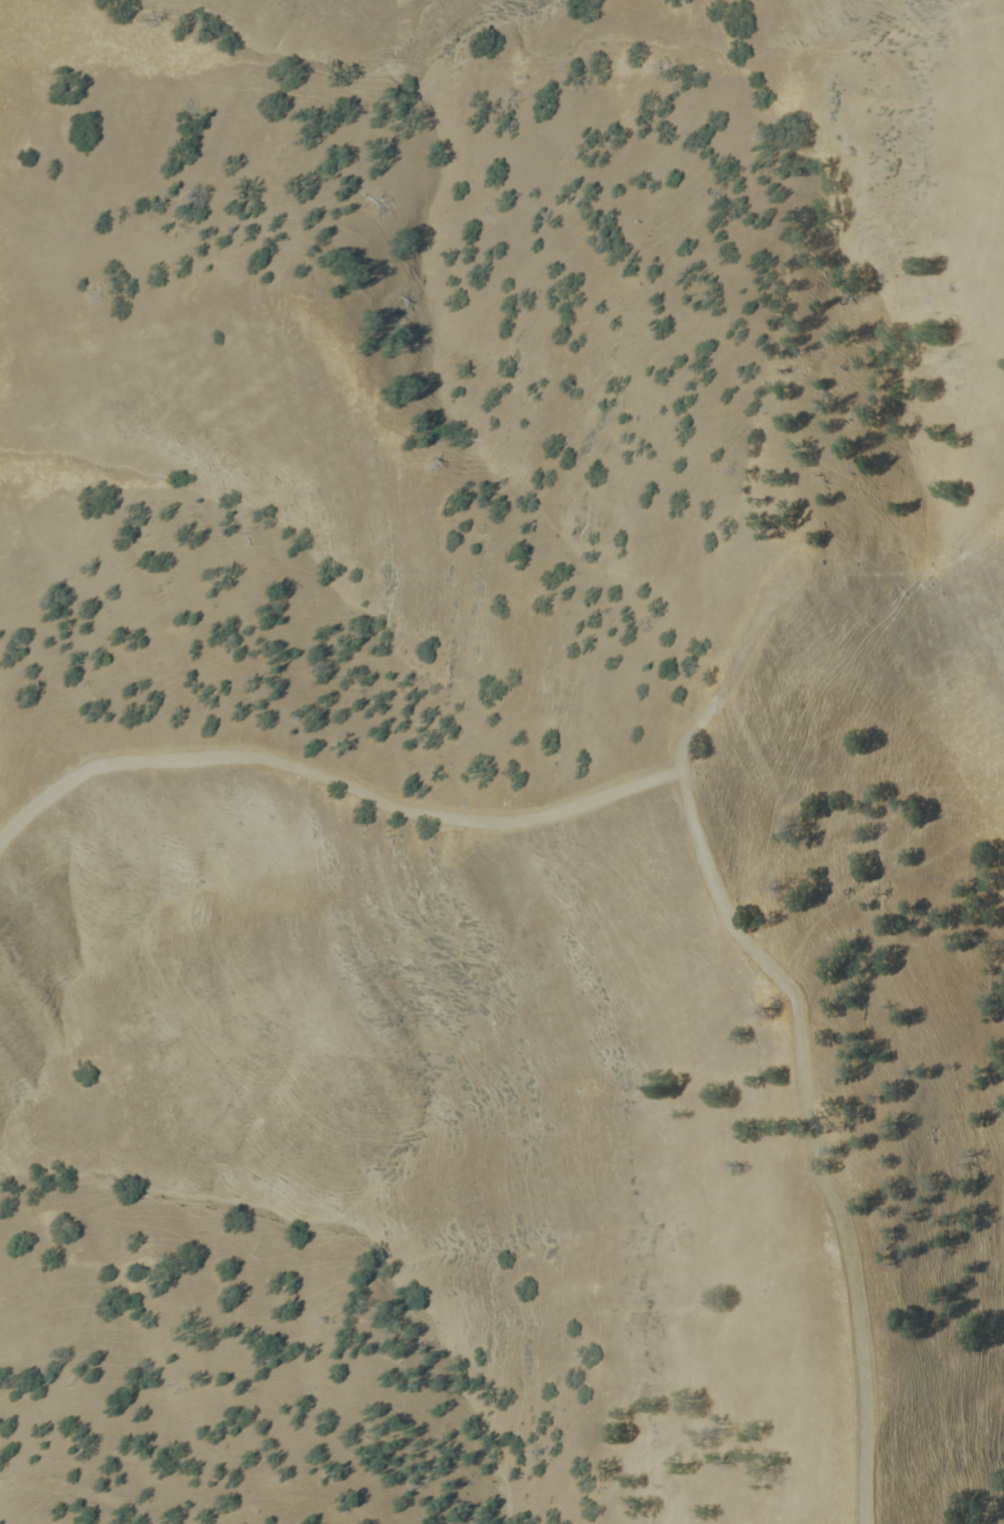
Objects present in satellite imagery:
road: (10, 27)

